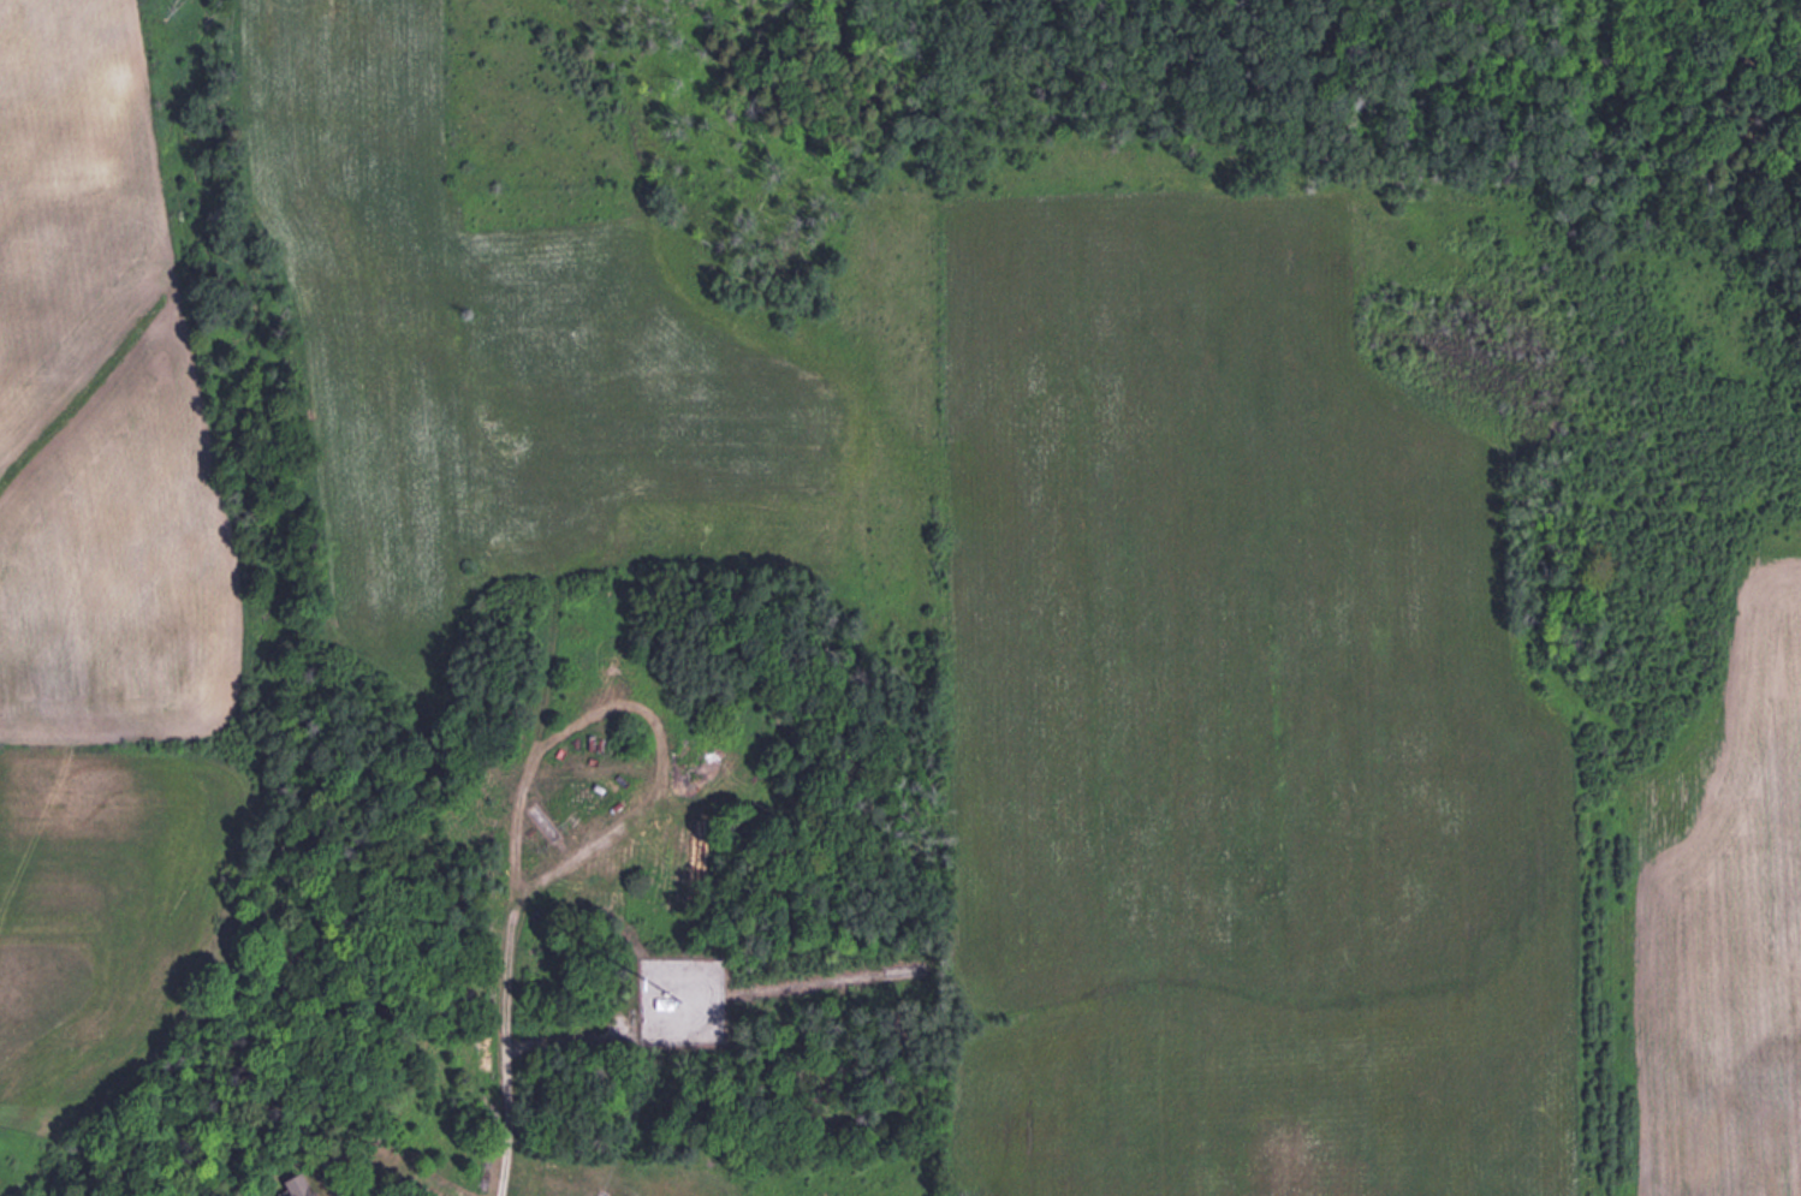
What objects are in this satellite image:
building: (308, 1192)

